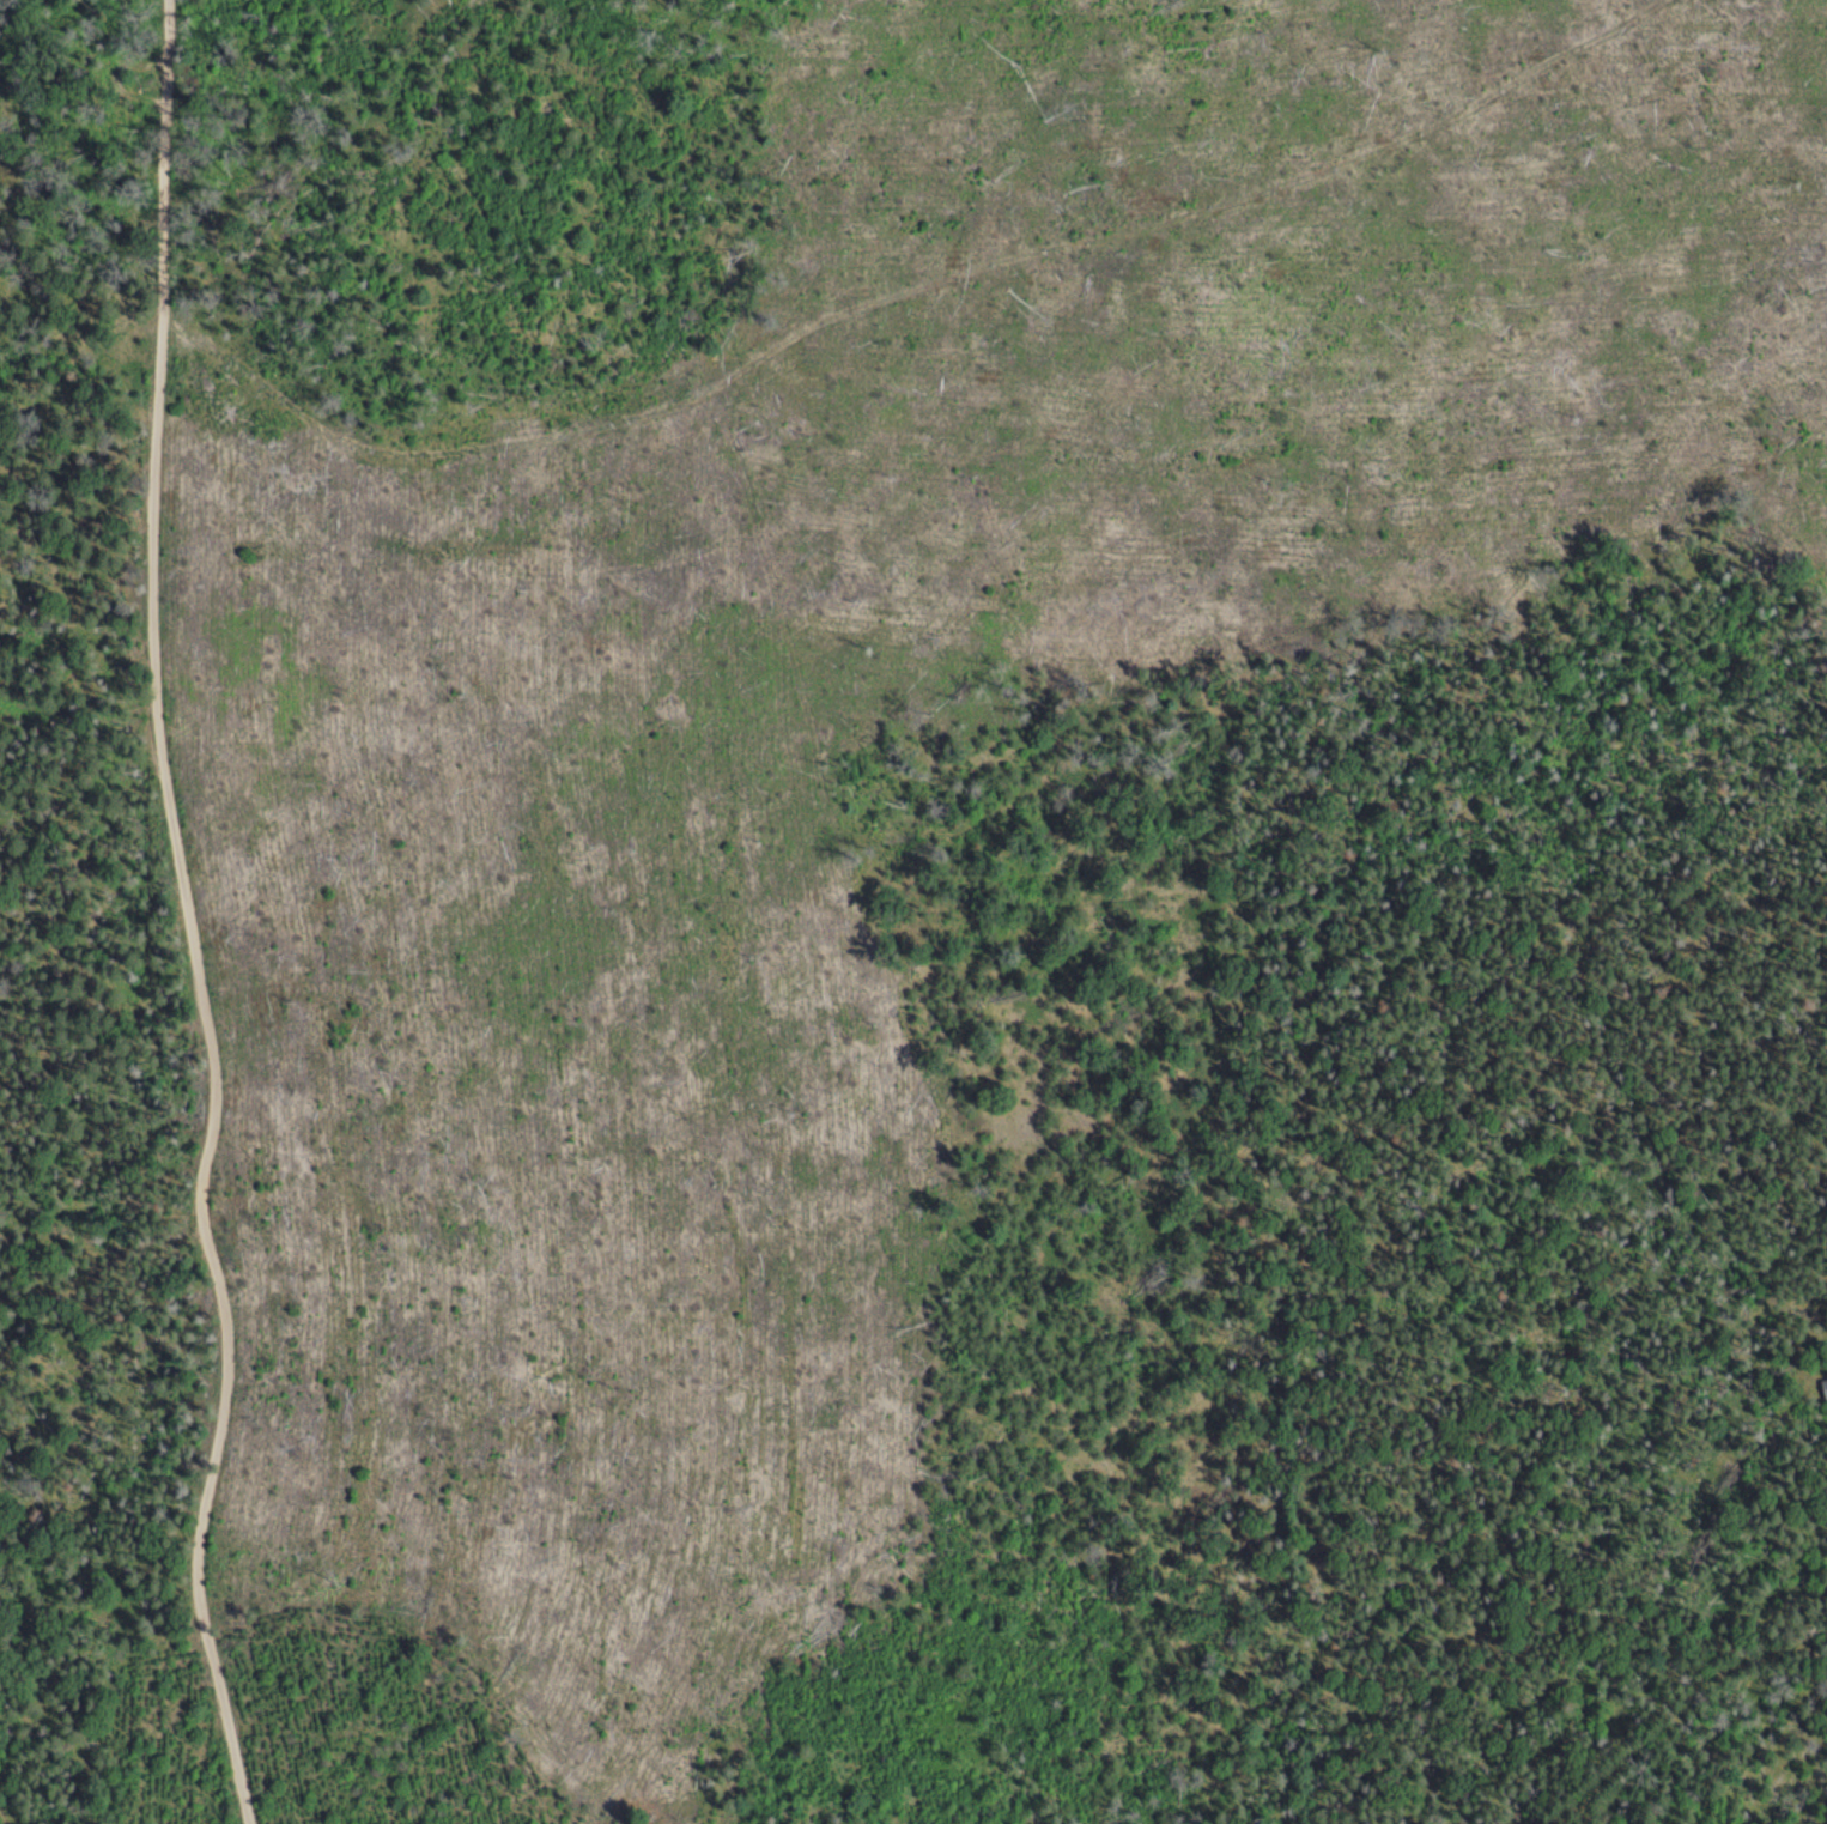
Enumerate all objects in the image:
road: (134, 927)
road: (1681, 1708)

